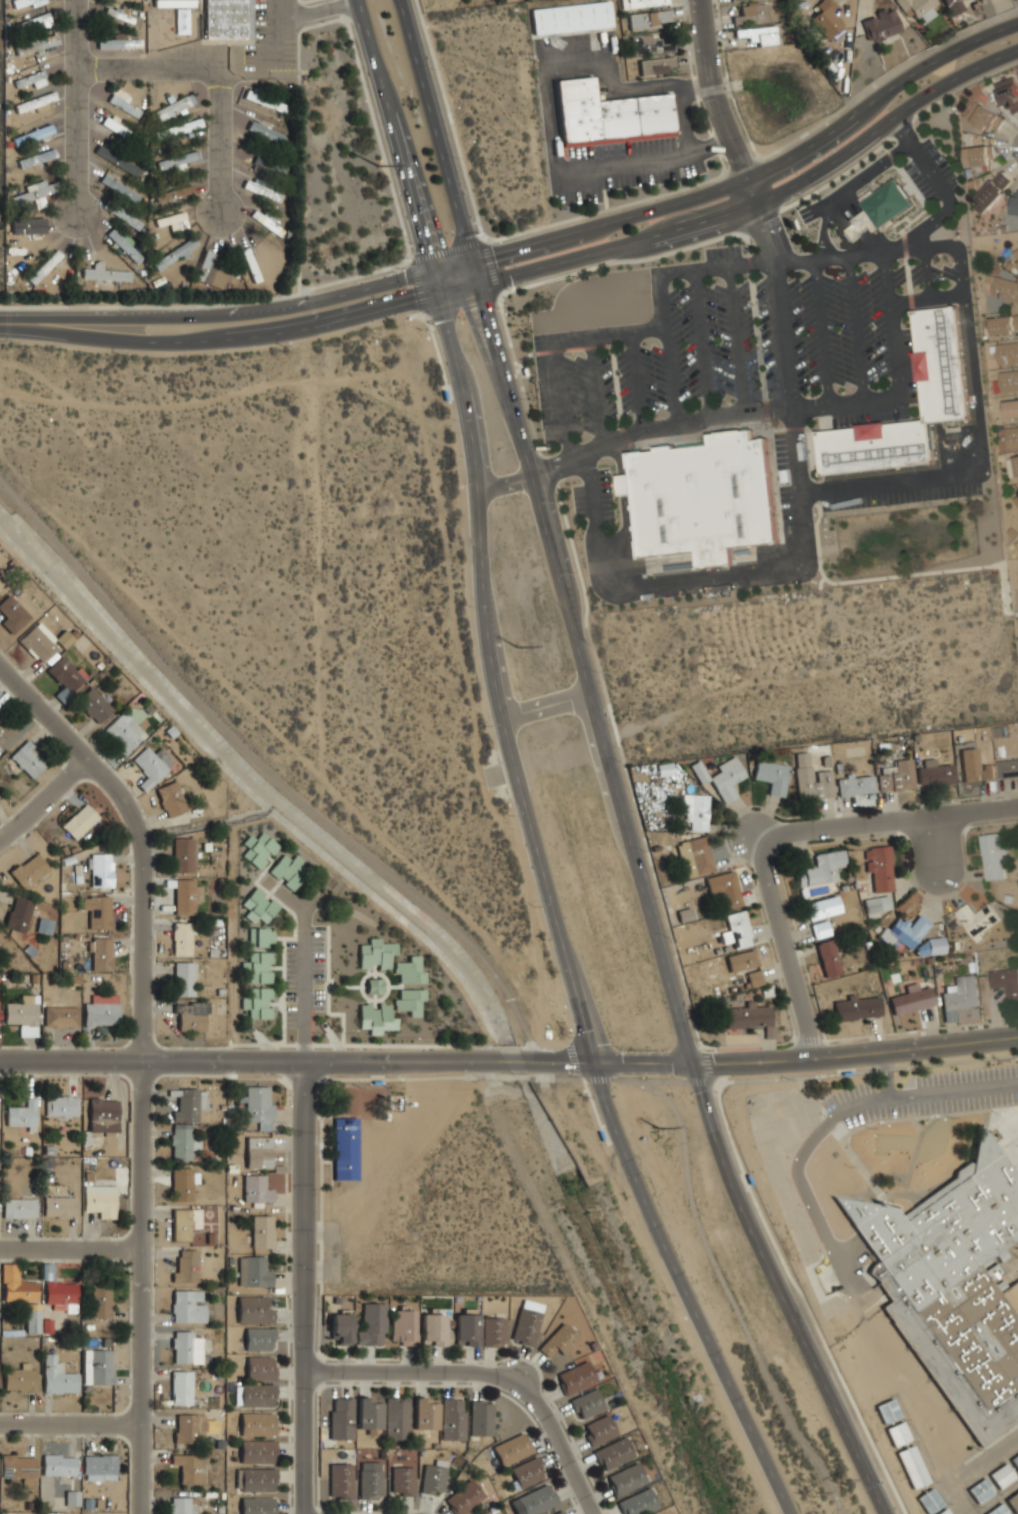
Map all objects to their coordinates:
road: (302, 0)
building: (25, 2)
building: (172, 2)
building: (948, 2)
building: (646, 3)
building: (918, 7)
road: (341, 9)
road: (316, 12)
building: (750, 14)
building: (118, 16)
building: (571, 17)
building: (826, 18)
building: (227, 19)
building: (648, 19)
building: (33, 23)
building: (881, 25)
road: (274, 31)
building: (758, 35)
building: (118, 43)
building: (651, 43)
building: (36, 44)
road: (357, 61)
building: (655, 66)
road: (149, 68)
street lamp: (432, 68)
building: (31, 79)
street lamp: (367, 87)
building: (1008, 93)
road: (879, 97)
building: (34, 102)
building: (122, 102)
road: (717, 104)
road: (79, 106)
road: (549, 106)
building: (173, 107)
building: (577, 108)
building: (652, 113)
building: (615, 117)
building: (984, 117)
road: (682, 119)
road: (885, 123)
building: (181, 128)
road: (435, 129)
road: (901, 131)
building: (264, 132)
building: (32, 135)
road: (393, 135)
road: (220, 144)
road: (869, 152)
building: (978, 156)
building: (35, 158)
building: (118, 158)
building: (177, 159)
power tower: (376, 164)
building: (268, 168)
parking lot: (930, 172)
building: (118, 188)
road: (845, 189)
building: (260, 191)
building: (992, 191)
building: (34, 193)
building: (173, 193)
road: (426, 193)
road: (947, 199)
building: (1015, 206)
building: (875, 210)
building: (120, 214)
building: (170, 219)
road: (759, 220)
road: (913, 220)
building: (265, 223)
building: (27, 225)
road: (589, 226)
road: (848, 227)
building: (123, 245)
traffic signals: (426, 249)
road: (443, 249)
road: (597, 250)
building: (173, 253)
traffic signals: (494, 253)
building: (1016, 253)
road: (748, 262)
building: (250, 264)
building: (206, 266)
road: (731, 266)
building: (44, 267)
street lamp: (399, 269)
building: (105, 274)
parking lot: (919, 274)
road: (926, 275)
road: (415, 286)
building: (1005, 289)
road: (951, 297)
traffic signals: (414, 300)
road: (461, 302)
traffic signals: (489, 303)
road: (236, 313)
road: (18, 323)
building: (1004, 324)
road: (504, 326)
road: (891, 326)
road: (471, 327)
parking lot: (837, 329)
road: (855, 331)
street lamp: (433, 333)
road: (821, 333)
road: (239, 337)
road: (735, 339)
road: (702, 344)
road: (784, 346)
road: (434, 348)
building: (1007, 353)
road: (670, 361)
parking lot: (666, 363)
building: (937, 364)
parking lot: (909, 365)
building: (523, 372)
road: (635, 380)
building: (1008, 381)
road: (596, 390)
building: (442, 394)
road: (562, 401)
road: (765, 406)
building: (1011, 410)
parking lot: (871, 416)
road: (619, 417)
road: (683, 425)
road: (790, 430)
building: (1009, 438)
road: (809, 454)
building: (1016, 465)
road: (982, 475)
road: (623, 486)
road: (812, 490)
road: (593, 496)
building: (700, 497)
parking lot: (594, 498)
road: (613, 538)
road: (724, 574)
road: (901, 575)
building: (11, 611)
building: (63, 639)
building: (38, 642)
power tower: (517, 646)
road: (582, 659)
road: (491, 668)
building: (64, 674)
road: (546, 702)
building: (92, 704)
building: (5, 731)
building: (123, 731)
building: (28, 758)
building: (150, 764)
building: (969, 764)
building: (1007, 768)
building: (664, 769)
building: (699, 772)
building: (933, 774)
building: (771, 776)
building: (896, 776)
building: (726, 779)
building: (809, 779)
building: (854, 785)
building: (169, 798)
road: (43, 799)
building: (695, 811)
road: (885, 816)
building: (78, 821)
building: (257, 849)
building: (181, 855)
building: (993, 855)
building: (694, 857)
building: (820, 868)
building: (878, 868)
building: (27, 869)
building: (99, 869)
building: (286, 871)
building: (723, 889)
building: (182, 895)
building: (876, 904)
building: (257, 906)
building: (823, 907)
building: (97, 910)
building: (17, 913)
building: (684, 915)
building: (977, 918)
building: (43, 925)
building: (819, 927)
building: (736, 930)
building: (904, 931)
building: (180, 937)
building: (260, 937)
road: (784, 944)
building: (930, 948)
building: (98, 953)
building: (374, 953)
road: (304, 957)
building: (828, 957)
building: (741, 960)
building: (257, 966)
building: (408, 969)
road: (491, 977)
building: (754, 978)
building: (182, 979)
building: (1005, 981)
building: (373, 985)
building: (958, 996)
building: (911, 998)
building: (408, 1000)
building: (256, 1002)
building: (857, 1007)
building: (99, 1010)
building: (21, 1014)
building: (60, 1016)
building: (189, 1016)
building: (375, 1017)
building: (750, 1018)
road: (855, 1053)
road: (241, 1059)
road: (504, 1060)
road: (559, 1061)
road: (643, 1061)
road: (141, 1064)
road: (929, 1093)
building: (186, 1103)
building: (60, 1105)
building: (257, 1105)
building: (20, 1115)
building: (102, 1115)
street lamp: (822, 1115)
power tower: (656, 1123)
building: (180, 1141)
building: (344, 1148)
building: (258, 1152)
street lamp: (789, 1159)
building: (747, 1179)
road: (797, 1179)
building: (181, 1182)
building: (255, 1188)
building: (98, 1200)
building: (57, 1206)
street lamp: (801, 1206)
building: (17, 1208)
building: (180, 1224)
building: (261, 1231)
road: (70, 1249)
building: (183, 1265)
building: (252, 1271)
building: (14, 1285)
building: (952, 1286)
road: (303, 1287)
road: (786, 1289)
building: (55, 1290)
road: (684, 1290)
building: (100, 1300)
building: (186, 1306)
building: (253, 1309)
building: (31, 1320)
building: (526, 1321)
building: (370, 1325)
building: (401, 1326)
building: (432, 1329)
building: (464, 1329)
building: (339, 1330)
building: (492, 1331)
building: (257, 1338)
building: (556, 1340)
building: (185, 1346)
building: (96, 1366)
building: (259, 1367)
road: (486, 1375)
building: (56, 1376)
building: (19, 1377)
building: (575, 1378)
building: (179, 1386)
building: (253, 1395)
building: (586, 1404)
building: (888, 1412)
building: (423, 1413)
building: (367, 1414)
building: (396, 1418)
building: (480, 1418)
building: (340, 1419)
building: (451, 1419)
road: (70, 1421)
building: (256, 1424)
building: (186, 1426)
building: (597, 1430)
building: (898, 1434)
building: (511, 1448)
building: (256, 1451)
building: (611, 1453)
building: (1014, 1460)
building: (57, 1464)
building: (96, 1466)
building: (18, 1467)
building: (188, 1467)
building: (914, 1467)
building: (525, 1472)
building: (1001, 1476)
building: (431, 1477)
building: (255, 1479)
building: (339, 1480)
building: (624, 1480)
building: (400, 1481)
power tower: (843, 1483)
building: (369, 1484)
building: (981, 1490)
power tower: (814, 1493)
building: (462, 1497)
building: (536, 1500)
building: (930, 1500)
building: (1013, 1501)
building: (636, 1503)
building: (181, 1505)
building: (256, 1505)
building: (997, 1510)
building: (943, 1511)
building: (483, 1512)
building: (557, 1512)

